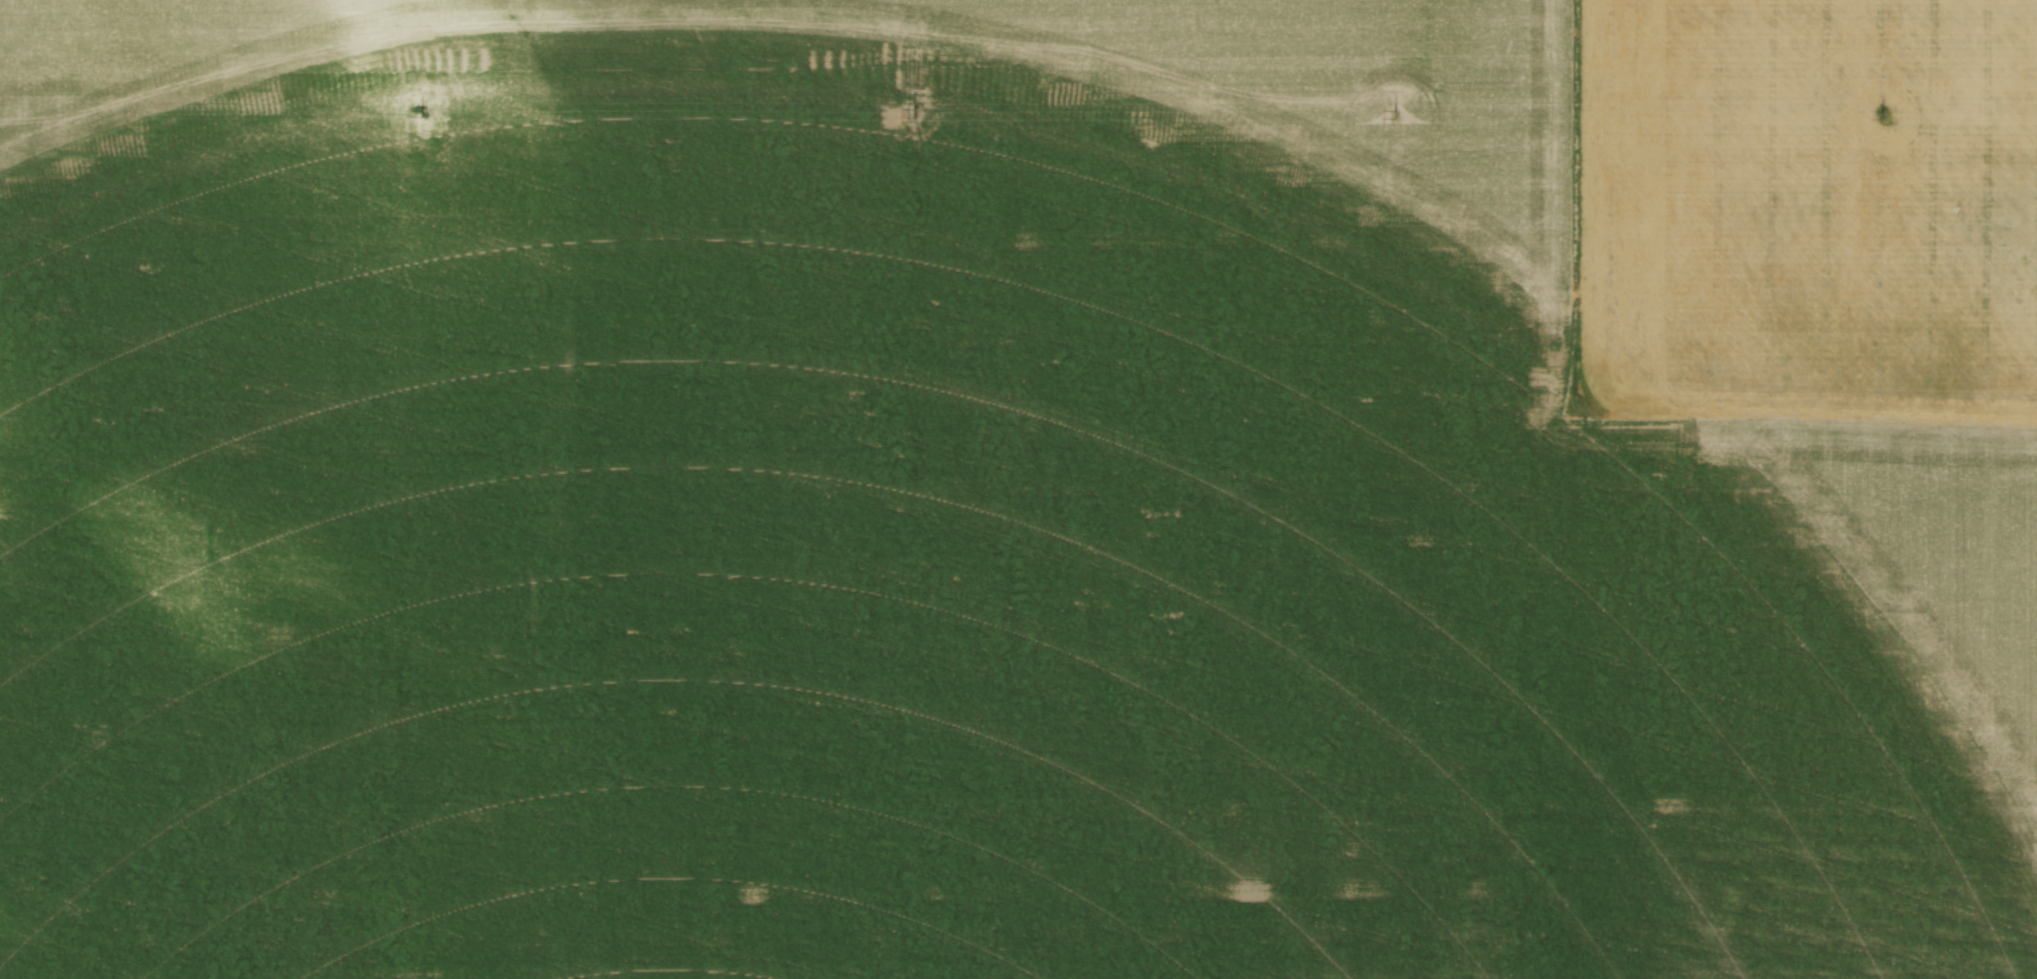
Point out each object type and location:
power tower: (910, 113)
power tower: (421, 114)
power tower: (1395, 116)
power tower: (1880, 116)
crop: (1018, 489)

